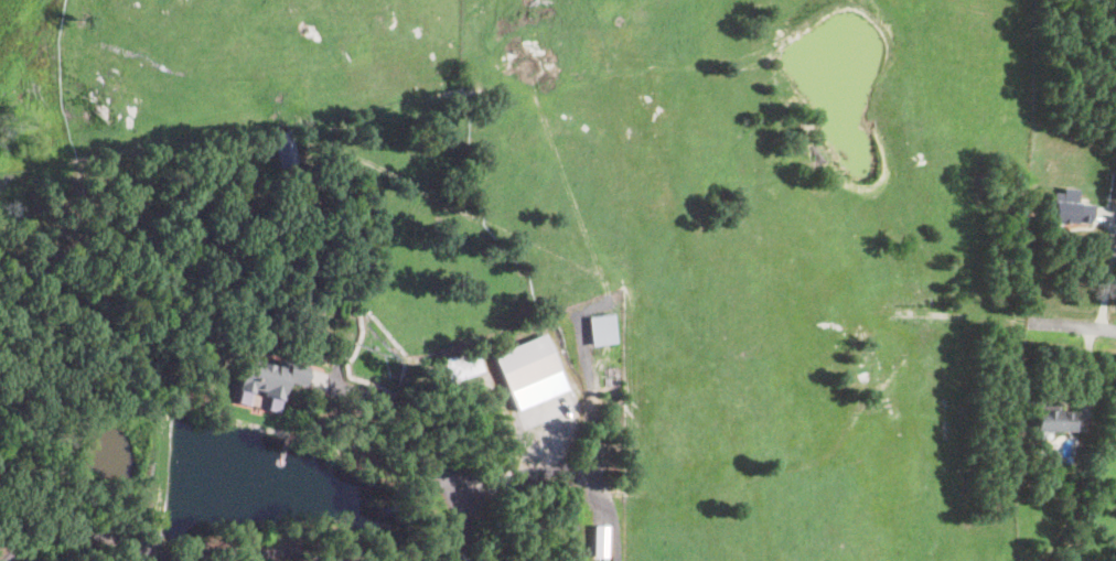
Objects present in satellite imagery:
building: (283, 148)
building: (1112, 187)
building: (1070, 214)
road: (1075, 325)
building: (602, 330)
building: (527, 362)
building: (463, 364)
building: (271, 376)
building: (1051, 421)
building: (1079, 452)
road: (458, 489)
building: (1112, 527)
building: (600, 540)
road: (154, 548)

